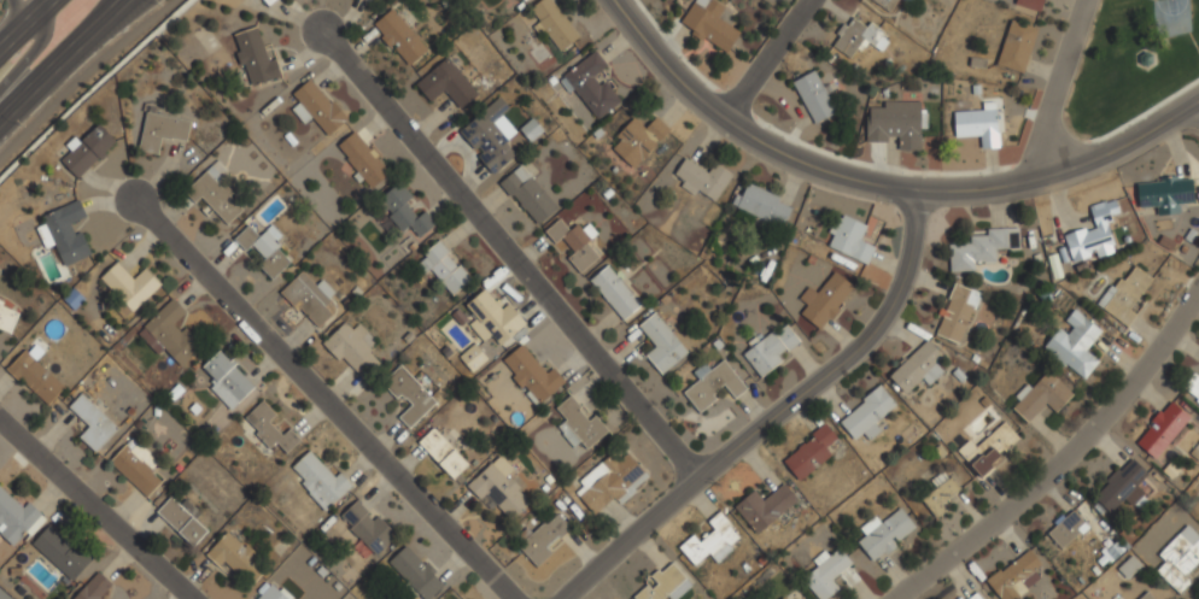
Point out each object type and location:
building: (368, 0)
building: (525, 0)
building: (527, 0)
building: (908, 0)
building: (911, 0)
building: (265, 2)
building: (885, 4)
building: (1030, 4)
road: (21, 16)
park: (1170, 17)
building: (709, 23)
building: (552, 24)
road: (30, 28)
building: (398, 37)
building: (858, 37)
building: (1016, 46)
road: (30, 52)
road: (55, 52)
building: (253, 55)
road: (766, 59)
park: (1133, 63)
building: (445, 84)
building: (591, 87)
road: (1055, 89)
building: (814, 96)
road: (1198, 102)
building: (316, 107)
street lamp: (11, 116)
building: (895, 123)
building: (977, 125)
building: (530, 130)
building: (160, 131)
building: (489, 135)
building: (637, 140)
building: (87, 151)
building: (362, 159)
building: (702, 178)
road: (885, 188)
building: (215, 194)
building: (527, 195)
building: (1163, 196)
building: (762, 205)
building: (403, 211)
building: (66, 233)
building: (1093, 233)
building: (848, 240)
building: (574, 242)
building: (982, 248)
building: (262, 249)
road: (509, 253)
building: (444, 268)
building: (129, 287)
building: (614, 292)
building: (1125, 293)
building: (309, 298)
building: (825, 300)
building: (957, 313)
building: (7, 315)
building: (491, 317)
building: (171, 333)
building: (660, 343)
building: (1080, 346)
building: (351, 350)
building: (772, 350)
building: (473, 357)
building: (917, 366)
building: (532, 376)
building: (35, 377)
building: (227, 380)
building: (713, 386)
building: (1192, 388)
building: (408, 395)
building: (1042, 395)
road: (323, 400)
road: (770, 415)
building: (866, 416)
building: (92, 423)
building: (578, 424)
building: (268, 428)
building: (1162, 430)
building: (988, 450)
building: (808, 453)
building: (443, 454)
road: (1070, 463)
building: (135, 468)
building: (317, 480)
building: (608, 482)
building: (1121, 486)
building: (497, 491)
building: (940, 493)
building: (764, 507)
road: (94, 510)
building: (16, 517)
building: (182, 519)
building: (367, 527)
building: (1066, 529)
building: (884, 534)
building: (542, 540)
building: (710, 542)
building: (59, 552)
building: (235, 558)
building: (1180, 558)
building: (1129, 568)
building: (415, 572)
building: (825, 574)
building: (1016, 575)
building: (661, 585)
building: (94, 588)
building: (273, 593)
building: (972, 595)
building: (1146, 595)
building: (791, 597)
building: (783, 598)
building: (960, 598)
building: (1121, 598)

